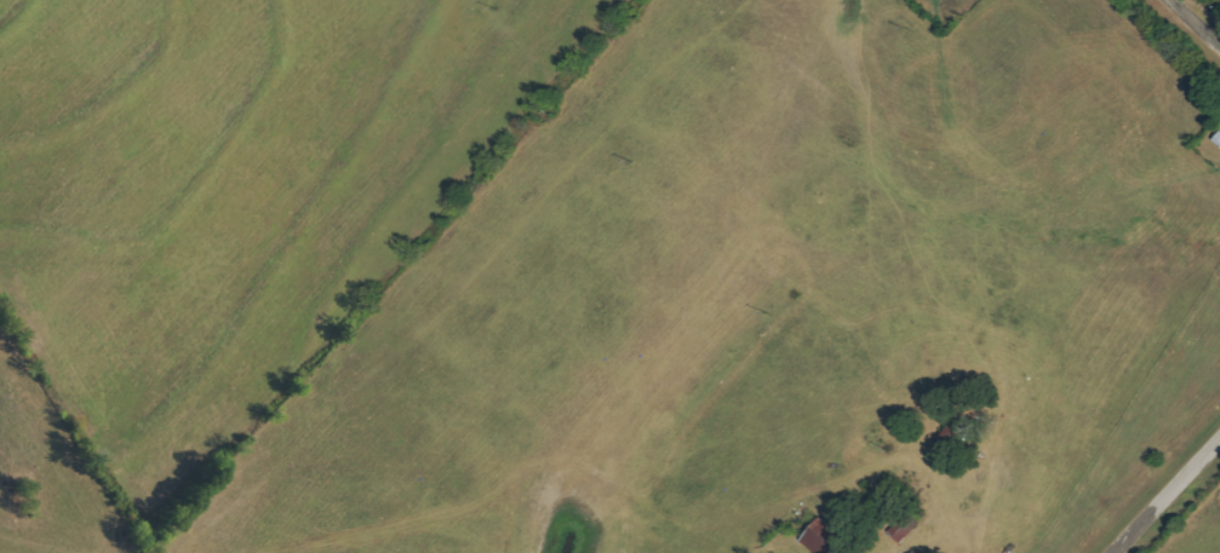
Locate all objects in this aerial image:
road: (1185, 34)
building: (1218, 138)
road: (1168, 500)
building: (907, 526)
building: (824, 537)

